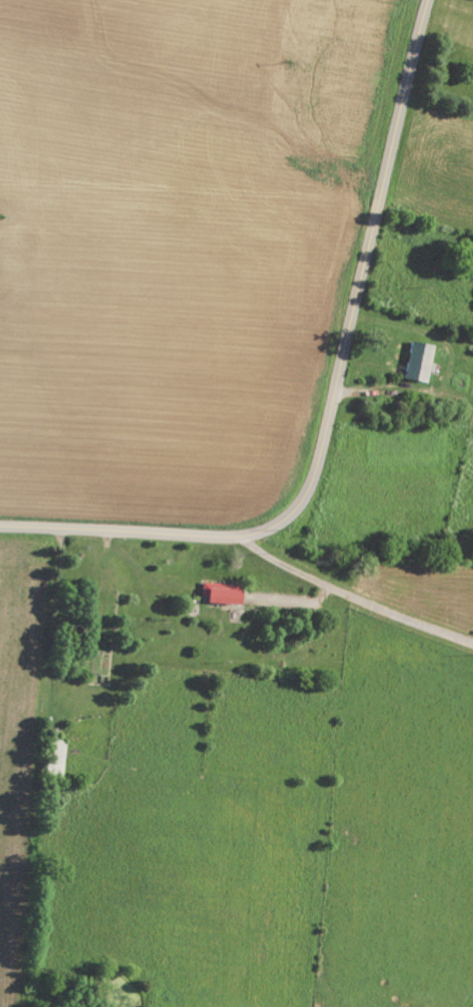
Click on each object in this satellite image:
building: (422, 362)
road: (333, 403)
building: (225, 594)
road: (353, 596)

